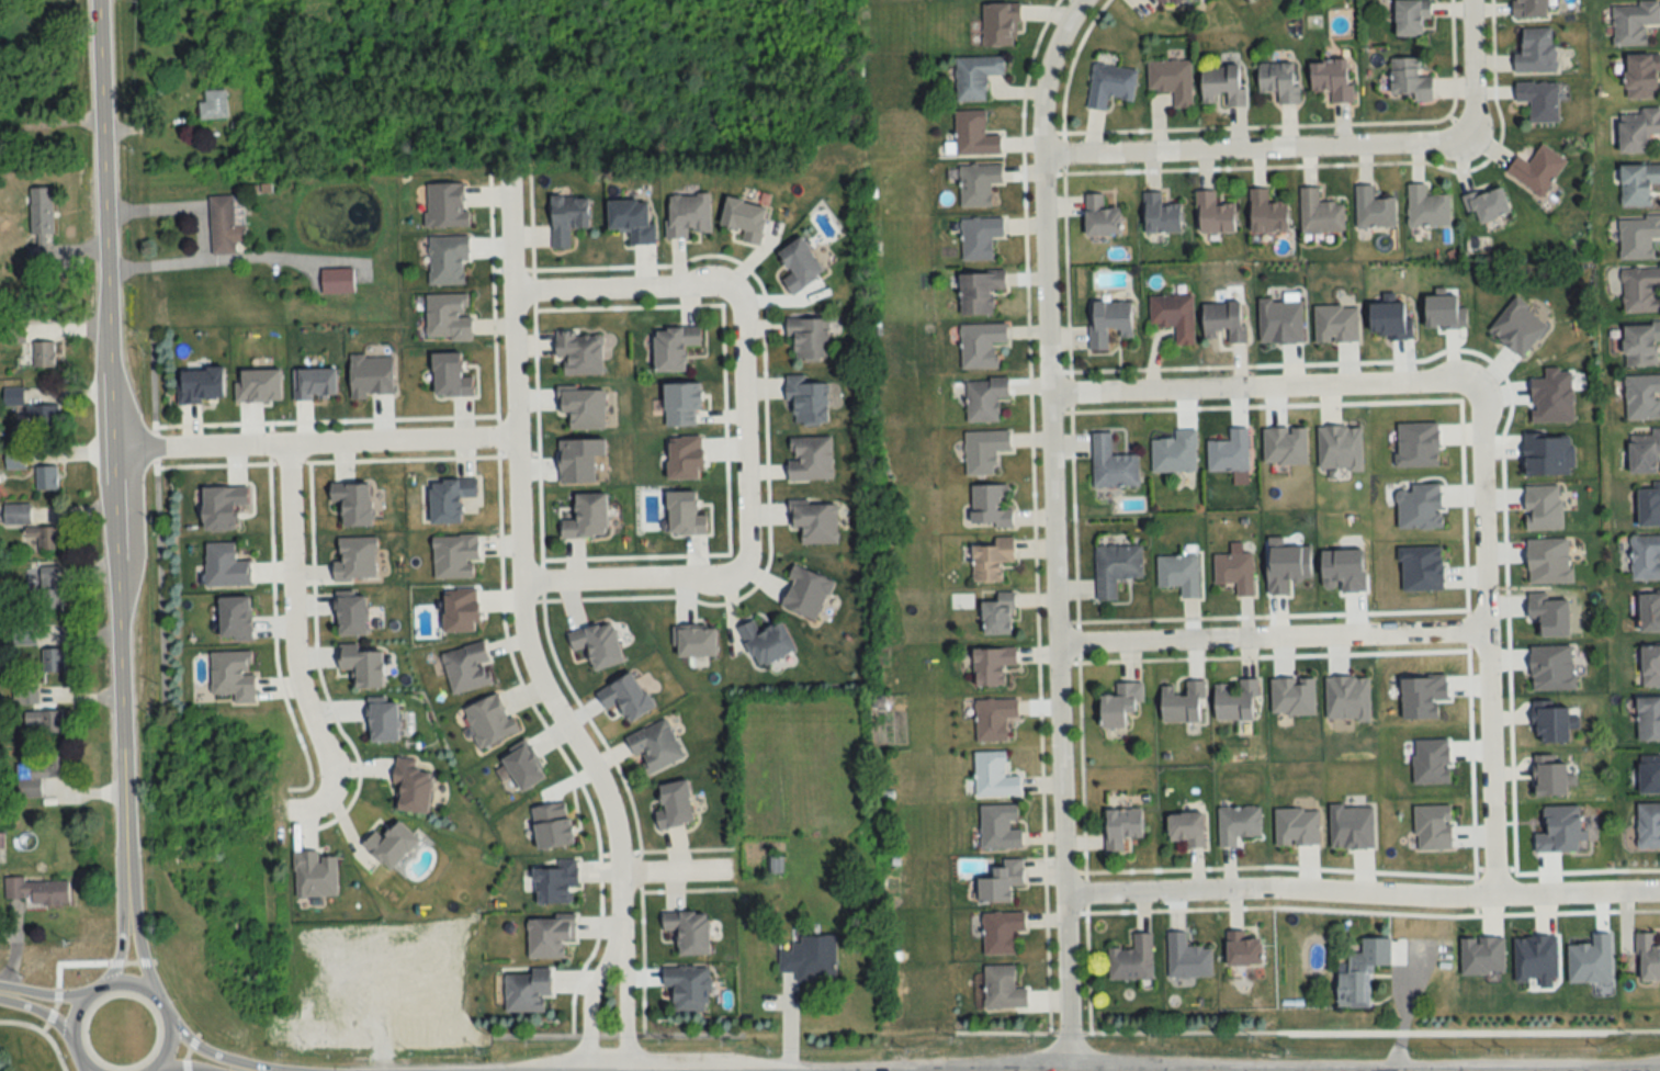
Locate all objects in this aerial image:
building: (1162, 1)
building: (1175, 1)
building: (1529, 9)
building: (1411, 16)
building: (1633, 22)
building: (998, 24)
building: (1536, 50)
road: (1470, 65)
building: (210, 74)
building: (975, 76)
building: (1641, 77)
building: (1172, 79)
building: (1333, 79)
building: (1409, 79)
building: (1279, 80)
building: (1109, 84)
building: (1222, 84)
building: (1539, 100)
building: (213, 104)
building: (1639, 129)
building: (974, 134)
road: (1255, 149)
building: (1537, 170)
building: (1638, 183)
building: (978, 184)
building: (1488, 204)
building: (1426, 207)
building: (1373, 210)
building: (39, 212)
building: (1266, 213)
building: (1213, 214)
building: (1319, 214)
building: (688, 215)
building: (1161, 215)
building: (567, 217)
building: (1100, 217)
building: (632, 219)
building: (745, 219)
building: (226, 225)
road: (204, 233)
building: (1638, 237)
building: (979, 238)
building: (37, 252)
building: (448, 260)
building: (800, 266)
building: (337, 281)
road: (624, 288)
building: (1640, 290)
building: (979, 293)
building: (1174, 316)
building: (1224, 320)
building: (1108, 324)
building: (810, 338)
building: (980, 346)
building: (1641, 346)
building: (674, 348)
building: (43, 354)
building: (579, 354)
building: (450, 376)
road: (1262, 383)
building: (1642, 397)
building: (808, 398)
building: (984, 399)
road: (745, 435)
road: (110, 438)
road: (313, 443)
building: (983, 452)
building: (1229, 452)
building: (1175, 453)
building: (1645, 453)
building: (810, 459)
building: (1111, 465)
building: (45, 477)
building: (449, 499)
building: (1649, 505)
building: (990, 506)
building: (14, 514)
building: (684, 515)
building: (587, 518)
building: (815, 523)
road: (1052, 530)
building: (44, 538)
building: (1645, 557)
building: (991, 560)
road: (521, 566)
building: (1116, 568)
building: (1234, 572)
building: (1178, 574)
road: (629, 578)
building: (48, 587)
building: (1650, 613)
building: (998, 616)
road: (1483, 632)
road: (1269, 635)
building: (766, 643)
building: (597, 644)
road: (293, 645)
building: (53, 662)
building: (1650, 666)
building: (992, 667)
building: (466, 668)
building: (1236, 701)
building: (1183, 704)
building: (1120, 707)
building: (993, 719)
building: (1648, 719)
building: (42, 722)
building: (655, 746)
building: (1649, 775)
building: (37, 776)
building: (994, 776)
building: (410, 788)
building: (675, 807)
building: (1236, 825)
building: (1648, 826)
building: (1000, 827)
building: (1121, 828)
building: (1187, 830)
building: (395, 847)
road: (669, 870)
building: (555, 882)
building: (1001, 883)
road: (1362, 889)
building: (36, 892)
road: (120, 932)
building: (689, 933)
building: (1001, 933)
road: (138, 935)
building: (549, 937)
building: (1243, 950)
building: (1187, 958)
building: (1648, 958)
building: (810, 960)
building: (1132, 960)
building: (1360, 972)
road: (57, 976)
road: (120, 983)
building: (688, 989)
building: (1002, 990)
building: (527, 992)
road: (43, 993)
road: (588, 997)
road: (625, 1001)
road: (34, 1010)
road: (1642, 1031)
road: (1114, 1033)
road: (614, 1036)
road: (211, 1053)
road: (187, 1070)

